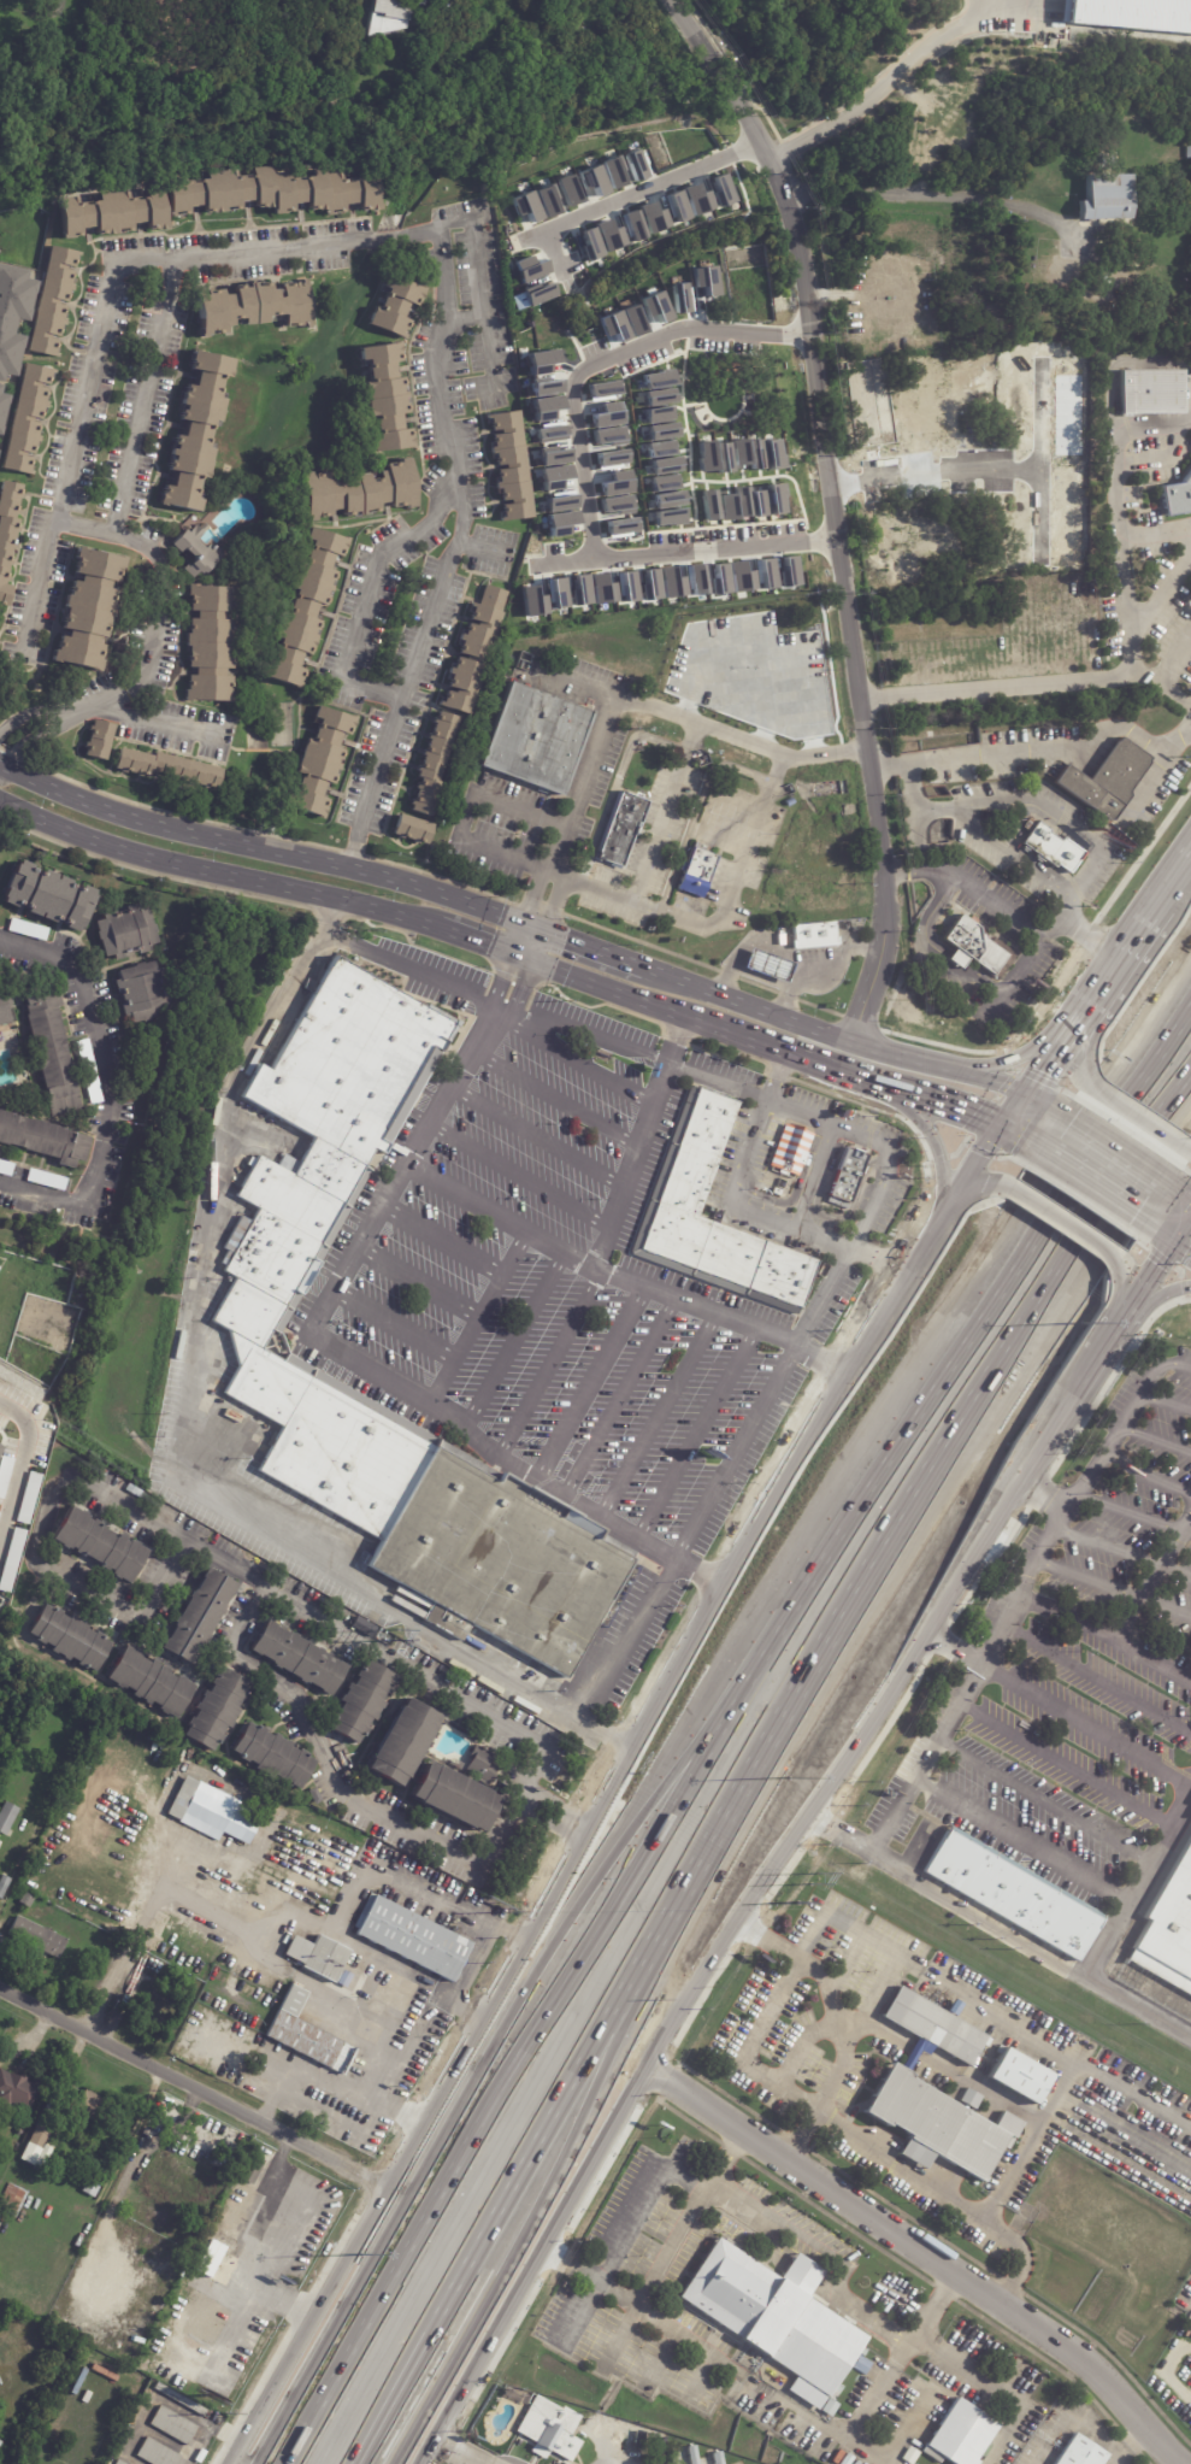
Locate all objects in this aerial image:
building: (1131, 14)
building: (390, 17)
road: (883, 83)
building: (1101, 160)
building: (635, 165)
building: (613, 172)
building: (592, 181)
building: (270, 189)
building: (568, 190)
building: (721, 190)
road: (936, 192)
road: (625, 195)
building: (1097, 195)
building: (547, 201)
building: (689, 202)
building: (526, 206)
building: (112, 213)
building: (644, 222)
building: (609, 236)
building: (590, 245)
road: (442, 265)
building: (529, 269)
road: (479, 290)
building: (538, 293)
building: (51, 299)
building: (250, 302)
building: (394, 306)
building: (8, 308)
road: (464, 318)
building: (658, 387)
building: (602, 389)
building: (1150, 390)
building: (0, 392)
road: (148, 394)
building: (378, 398)
building: (1, 405)
building: (656, 414)
building: (25, 418)
building: (195, 431)
building: (660, 431)
building: (655, 448)
road: (954, 453)
building: (748, 454)
building: (706, 455)
road: (580, 465)
building: (661, 465)
building: (508, 466)
road: (1118, 483)
building: (356, 490)
building: (1177, 496)
building: (766, 500)
building: (664, 501)
building: (741, 501)
building: (709, 505)
building: (726, 505)
road: (833, 510)
building: (1012, 530)
road: (1155, 530)
building: (7, 534)
building: (194, 551)
road: (565, 560)
building: (789, 571)
building: (766, 574)
building: (739, 577)
building: (696, 578)
building: (720, 578)
building: (670, 583)
road: (40, 584)
building: (650, 584)
building: (627, 586)
road: (1163, 586)
road: (159, 589)
building: (592, 589)
building: (558, 593)
road: (368, 598)
building: (532, 600)
building: (303, 606)
building: (83, 608)
road: (1132, 639)
building: (207, 642)
road: (694, 645)
building: (471, 648)
road: (1174, 657)
road: (1160, 682)
road: (998, 684)
road: (73, 713)
road: (24, 722)
road: (158, 722)
road: (1189, 725)
building: (535, 739)
road: (737, 739)
building: (98, 740)
road: (28, 743)
road: (1025, 754)
building: (322, 760)
building: (432, 765)
building: (167, 768)
road: (1, 769)
building: (1104, 780)
building: (789, 802)
road: (1033, 802)
road: (554, 816)
road: (910, 816)
building: (411, 829)
building: (621, 829)
road: (991, 840)
road: (555, 843)
road: (265, 847)
road: (653, 847)
building: (1050, 847)
road: (742, 865)
road: (553, 870)
building: (697, 870)
road: (216, 871)
building: (48, 894)
road: (529, 896)
road: (1067, 901)
road: (553, 905)
building: (28, 929)
traffic signals: (531, 929)
road: (1143, 929)
building: (120, 933)
building: (813, 936)
road: (479, 940)
road: (1091, 940)
road: (526, 942)
building: (972, 946)
road: (588, 949)
road: (774, 951)
road: (843, 951)
traffic signals: (521, 955)
building: (765, 966)
road: (412, 969)
road: (954, 971)
building: (137, 993)
building: (4, 1004)
road: (662, 1006)
road: (796, 1028)
road: (1087, 1030)
road: (584, 1034)
road: (679, 1040)
building: (49, 1047)
road: (1030, 1051)
road: (1057, 1052)
road: (586, 1066)
road: (773, 1075)
road: (847, 1076)
road: (104, 1087)
road: (984, 1095)
road: (558, 1101)
traffic signals: (1019, 1107)
road: (1026, 1111)
road: (1132, 1112)
road: (944, 1113)
road: (1008, 1121)
road: (857, 1133)
traffic signals: (998, 1134)
road: (540, 1139)
road: (1007, 1139)
building: (40, 1141)
road: (1022, 1148)
building: (791, 1151)
building: (691, 1159)
road: (1145, 1160)
road: (1108, 1162)
building: (5, 1166)
road: (633, 1166)
road: (937, 1166)
building: (849, 1174)
road: (521, 1177)
road: (819, 1177)
road: (974, 1182)
road: (798, 1188)
road: (1096, 1196)
road: (738, 1209)
road: (1186, 1210)
road: (847, 1216)
road: (1056, 1218)
road: (1181, 1231)
road: (444, 1241)
road: (1166, 1242)
traffic signals: (1172, 1246)
road: (1181, 1252)
road: (625, 1282)
road: (419, 1284)
road: (1158, 1292)
road: (1124, 1293)
road: (980, 1295)
road: (824, 1296)
building: (253, 1307)
road: (479, 1318)
road: (395, 1325)
road: (517, 1342)
road: (338, 1346)
road: (549, 1364)
road: (1172, 1365)
road: (592, 1386)
road: (620, 1399)
road: (1165, 1402)
road: (659, 1416)
road: (182, 1434)
road: (697, 1435)
road: (1155, 1437)
building: (0, 1440)
road: (735, 1452)
road: (20, 1453)
road: (947, 1472)
road: (1144, 1475)
road: (69, 1481)
building: (130, 1489)
road: (1045, 1490)
building: (28, 1498)
road: (1131, 1512)
building: (100, 1545)
road: (1121, 1552)
building: (11, 1559)
road: (1151, 1578)
road: (1114, 1587)
road: (1010, 1607)
building: (197, 1615)
power tower: (395, 1633)
building: (67, 1637)
road: (1104, 1637)
road: (630, 1642)
road: (231, 1647)
road: (955, 1647)
building: (297, 1658)
road: (1097, 1678)
building: (149, 1683)
road: (465, 1699)
building: (359, 1701)
building: (84, 1707)
building: (214, 1711)
road: (1086, 1724)
building: (401, 1741)
building: (34, 1746)
building: (271, 1757)
building: (51, 1763)
building: (480, 1764)
road: (1066, 1765)
building: (58, 1781)
road: (602, 1792)
building: (452, 1799)
road: (1044, 1801)
building: (213, 1812)
building: (6, 1815)
building: (1190, 1825)
road: (425, 1836)
road: (1022, 1839)
building: (0, 1842)
road: (786, 1847)
building: (13, 1863)
road: (176, 1868)
building: (8, 1870)
power tower: (815, 1876)
building: (4, 1884)
building: (1008, 1886)
road: (1138, 1886)
road: (412, 1888)
power tower: (796, 1903)
power tower: (507, 1912)
road: (1001, 1924)
road: (263, 1927)
building: (1167, 1929)
building: (36, 1936)
building: (412, 1936)
road: (767, 1936)
road: (843, 1962)
building: (331, 1964)
road: (297, 1974)
road: (460, 1980)
road: (556, 1987)
road: (869, 1997)
building: (151, 1999)
road: (122, 2003)
road: (986, 2003)
road: (503, 2029)
road: (600, 2029)
road: (885, 2031)
building: (308, 2034)
road: (798, 2045)
road: (914, 2051)
road: (744, 2052)
building: (1020, 2075)
road: (195, 2084)
road: (978, 2087)
road: (334, 2088)
building: (18, 2090)
road: (597, 2093)
building: (936, 2094)
building: (88, 2110)
road: (831, 2117)
road: (1034, 2127)
building: (43, 2133)
building: (179, 2171)
building: (17, 2201)
building: (134, 2205)
road: (987, 2207)
building: (155, 2217)
building: (148, 2244)
road: (1018, 2253)
road: (926, 2254)
road: (574, 2266)
building: (225, 2270)
road: (838, 2292)
building: (777, 2318)
road: (601, 2329)
road: (685, 2336)
building: (733, 2389)
building: (187, 2403)
road: (390, 2407)
road: (309, 2415)
power tower: (226, 2416)
building: (544, 2424)
building: (175, 2427)
building: (648, 2435)
building: (957, 2436)
building: (620, 2437)
building: (157, 2453)
road: (465, 2453)
building: (1080, 2453)
building: (691, 2454)
building: (715, 2457)
building: (119, 2463)
building: (742, 2463)

